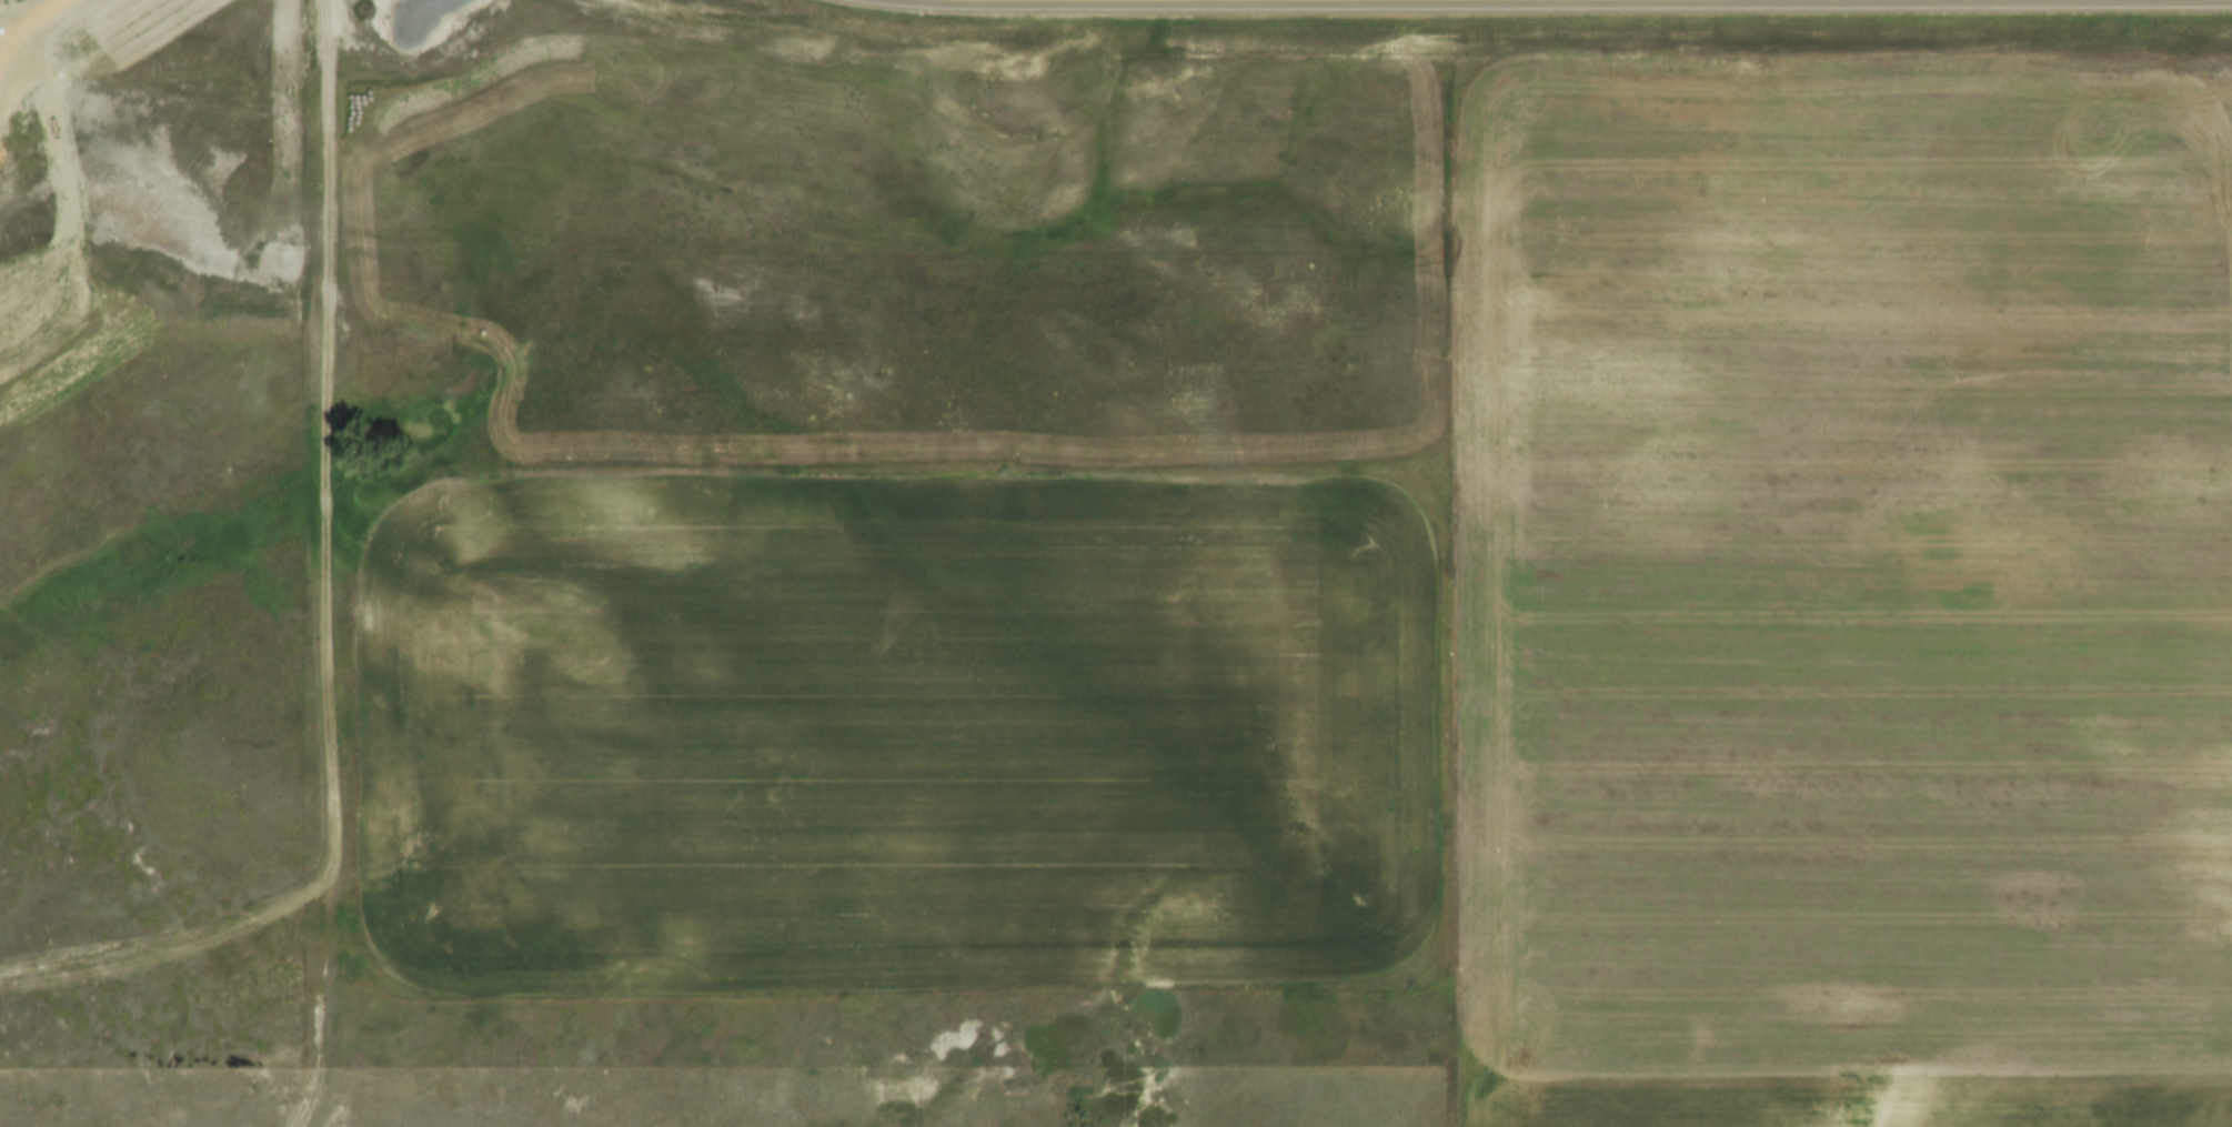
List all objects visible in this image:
road: (324, 427)
road: (177, 936)
road: (320, 992)

